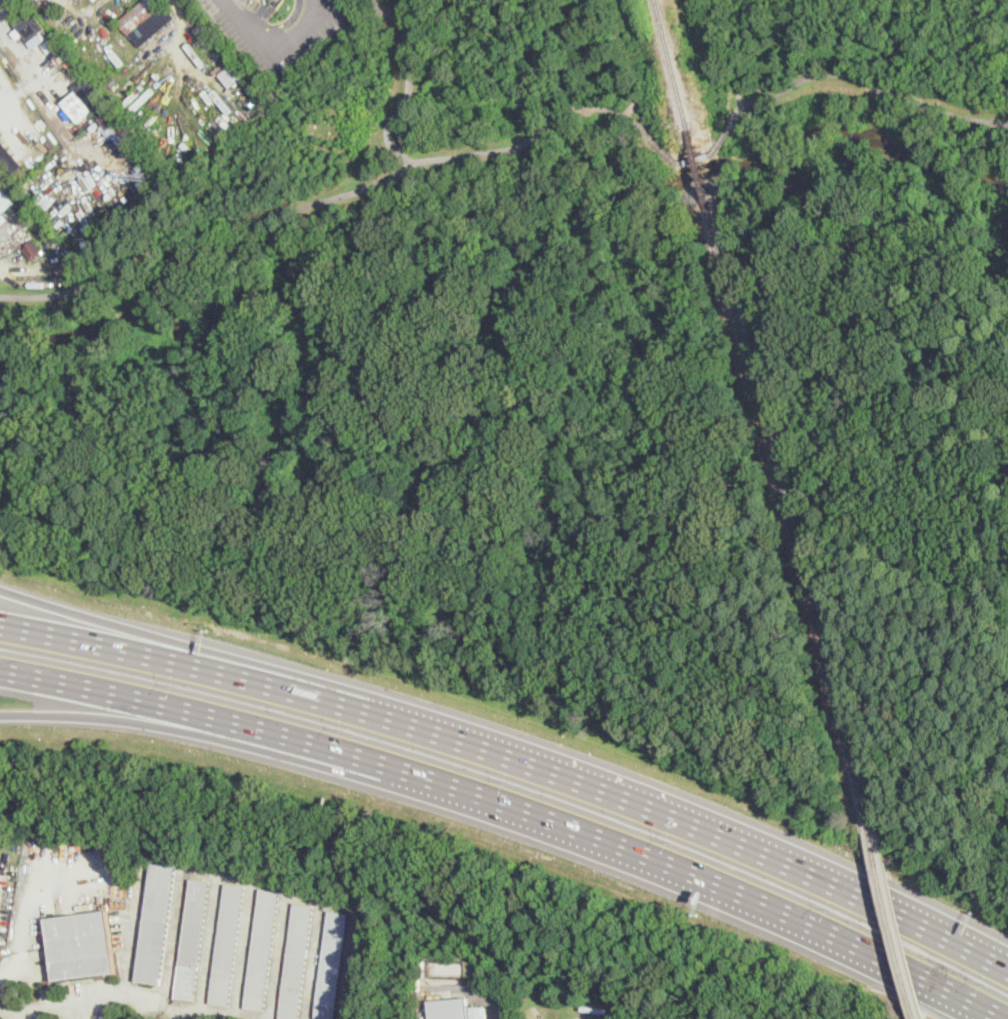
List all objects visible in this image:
building: (146, 20)
road: (279, 25)
building: (31, 29)
parking lot: (275, 30)
building: (49, 45)
road: (279, 52)
railway: (669, 63)
building: (233, 73)
road: (410, 80)
road: (862, 80)
road: (35, 88)
building: (93, 96)
building: (77, 106)
road: (630, 108)
road: (720, 139)
road: (666, 152)
building: (10, 156)
road: (695, 158)
railway: (698, 168)
road: (335, 196)
building: (5, 201)
building: (32, 249)
railway: (789, 518)
road: (122, 629)
road: (164, 727)
road: (517, 755)
road: (393, 764)
road: (28, 909)
building: (156, 921)
railway: (892, 923)
road: (133, 939)
building: (192, 940)
building: (227, 945)
building: (80, 946)
building: (262, 950)
road: (891, 956)
building: (296, 961)
building: (361, 964)
building: (331, 965)
road: (81, 1000)
building: (450, 1008)
road: (171, 1010)
building: (478, 1012)

